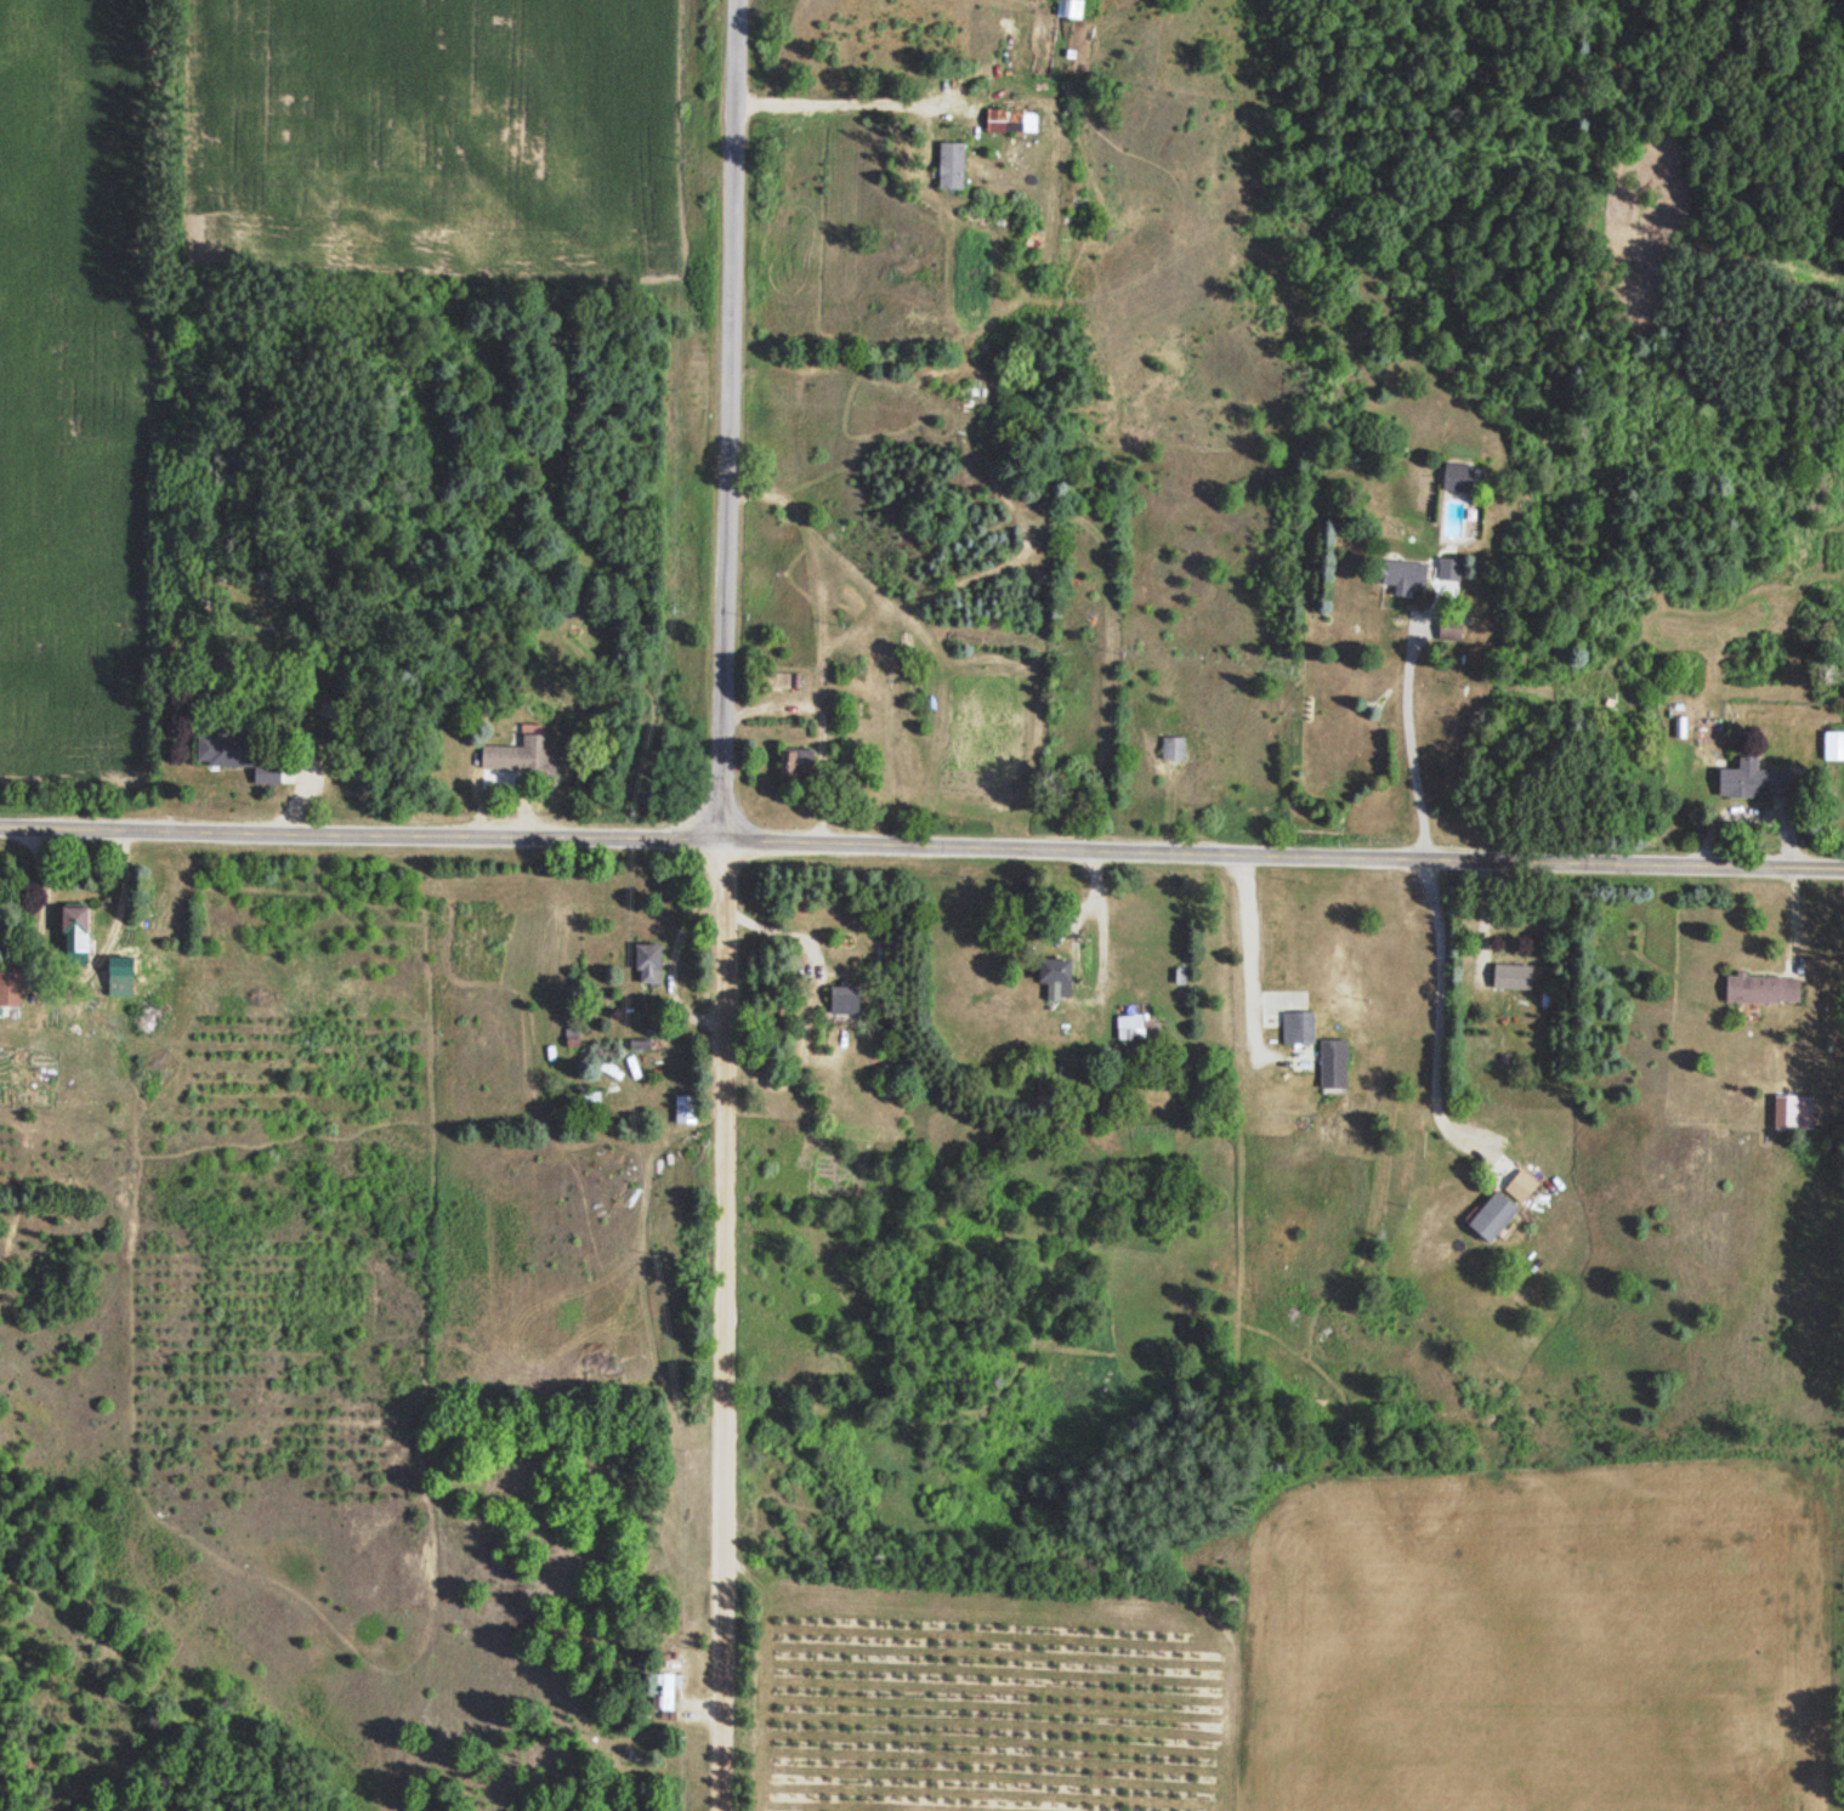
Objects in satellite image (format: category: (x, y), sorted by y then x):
building: (1067, 11)
building: (1008, 123)
building: (944, 168)
road: (727, 421)
building: (1453, 479)
building: (1446, 573)
building: (1401, 579)
building: (1446, 631)
building: (771, 683)
building: (1833, 740)
building: (1169, 750)
building: (220, 753)
building: (514, 757)
building: (793, 766)
building: (1751, 783)
road: (921, 846)
road: (1487, 919)
road: (1108, 931)
building: (70, 932)
road: (1255, 954)
building: (645, 966)
building: (1044, 970)
building: (1509, 980)
building: (10, 992)
building: (1759, 992)
building: (839, 1001)
building: (1287, 1027)
road: (1440, 1032)
building: (1329, 1068)
building: (682, 1112)
building: (1516, 1188)
building: (1487, 1217)
road: (720, 1327)
building: (664, 1694)

